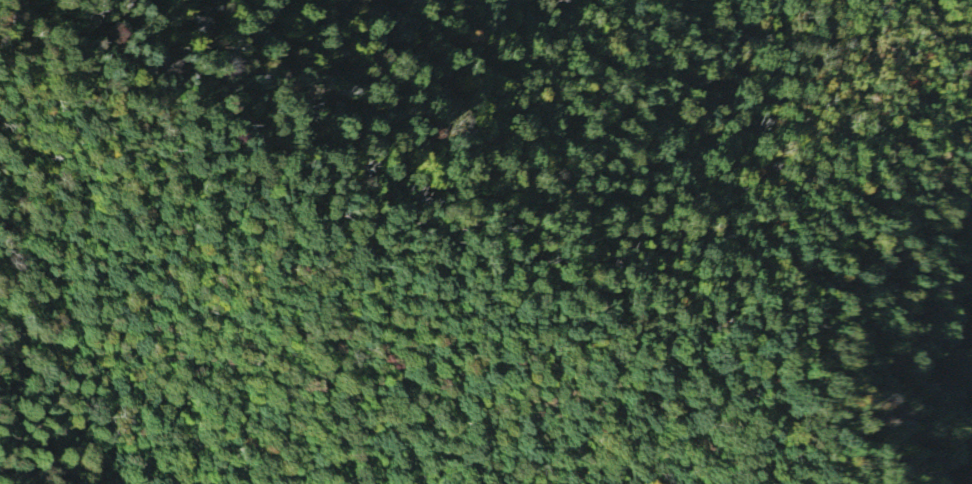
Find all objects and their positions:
road: (556, 367)

